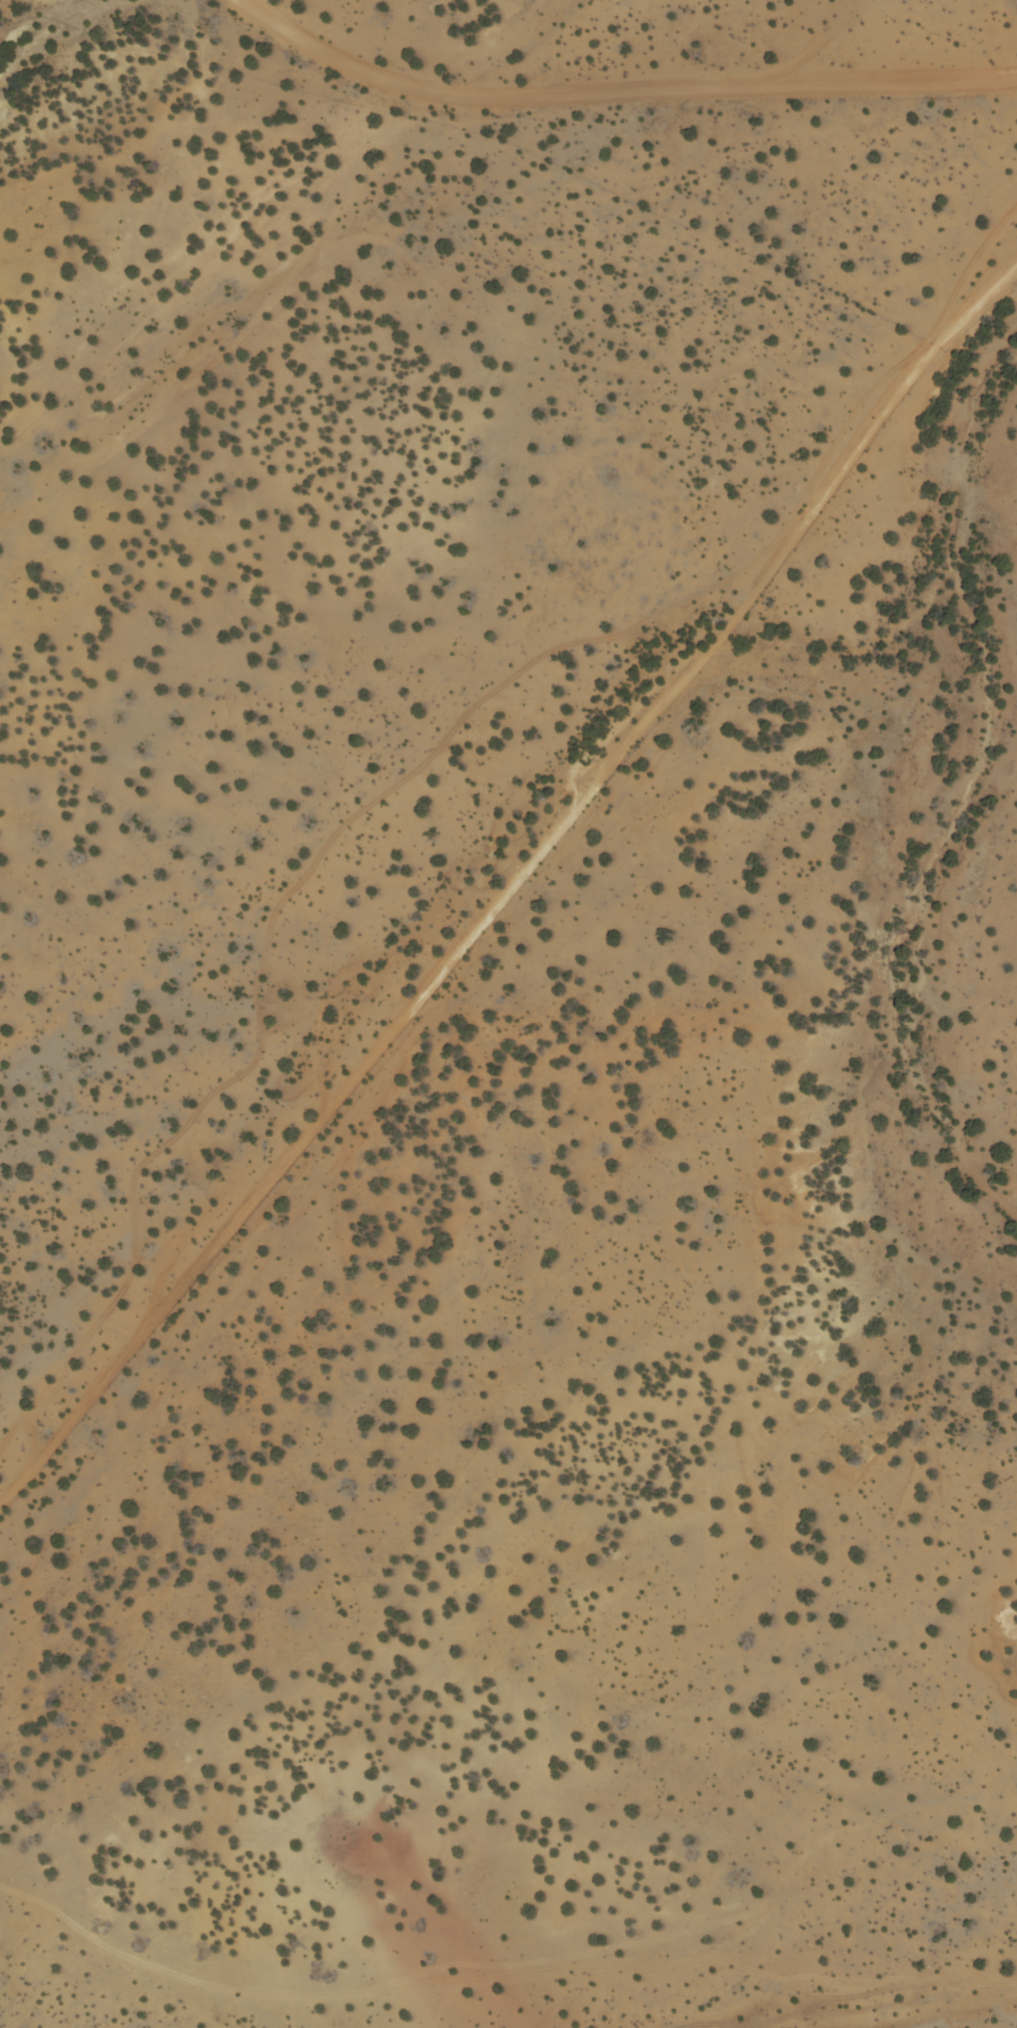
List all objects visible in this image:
road: (636, 58)
road: (289, 284)

